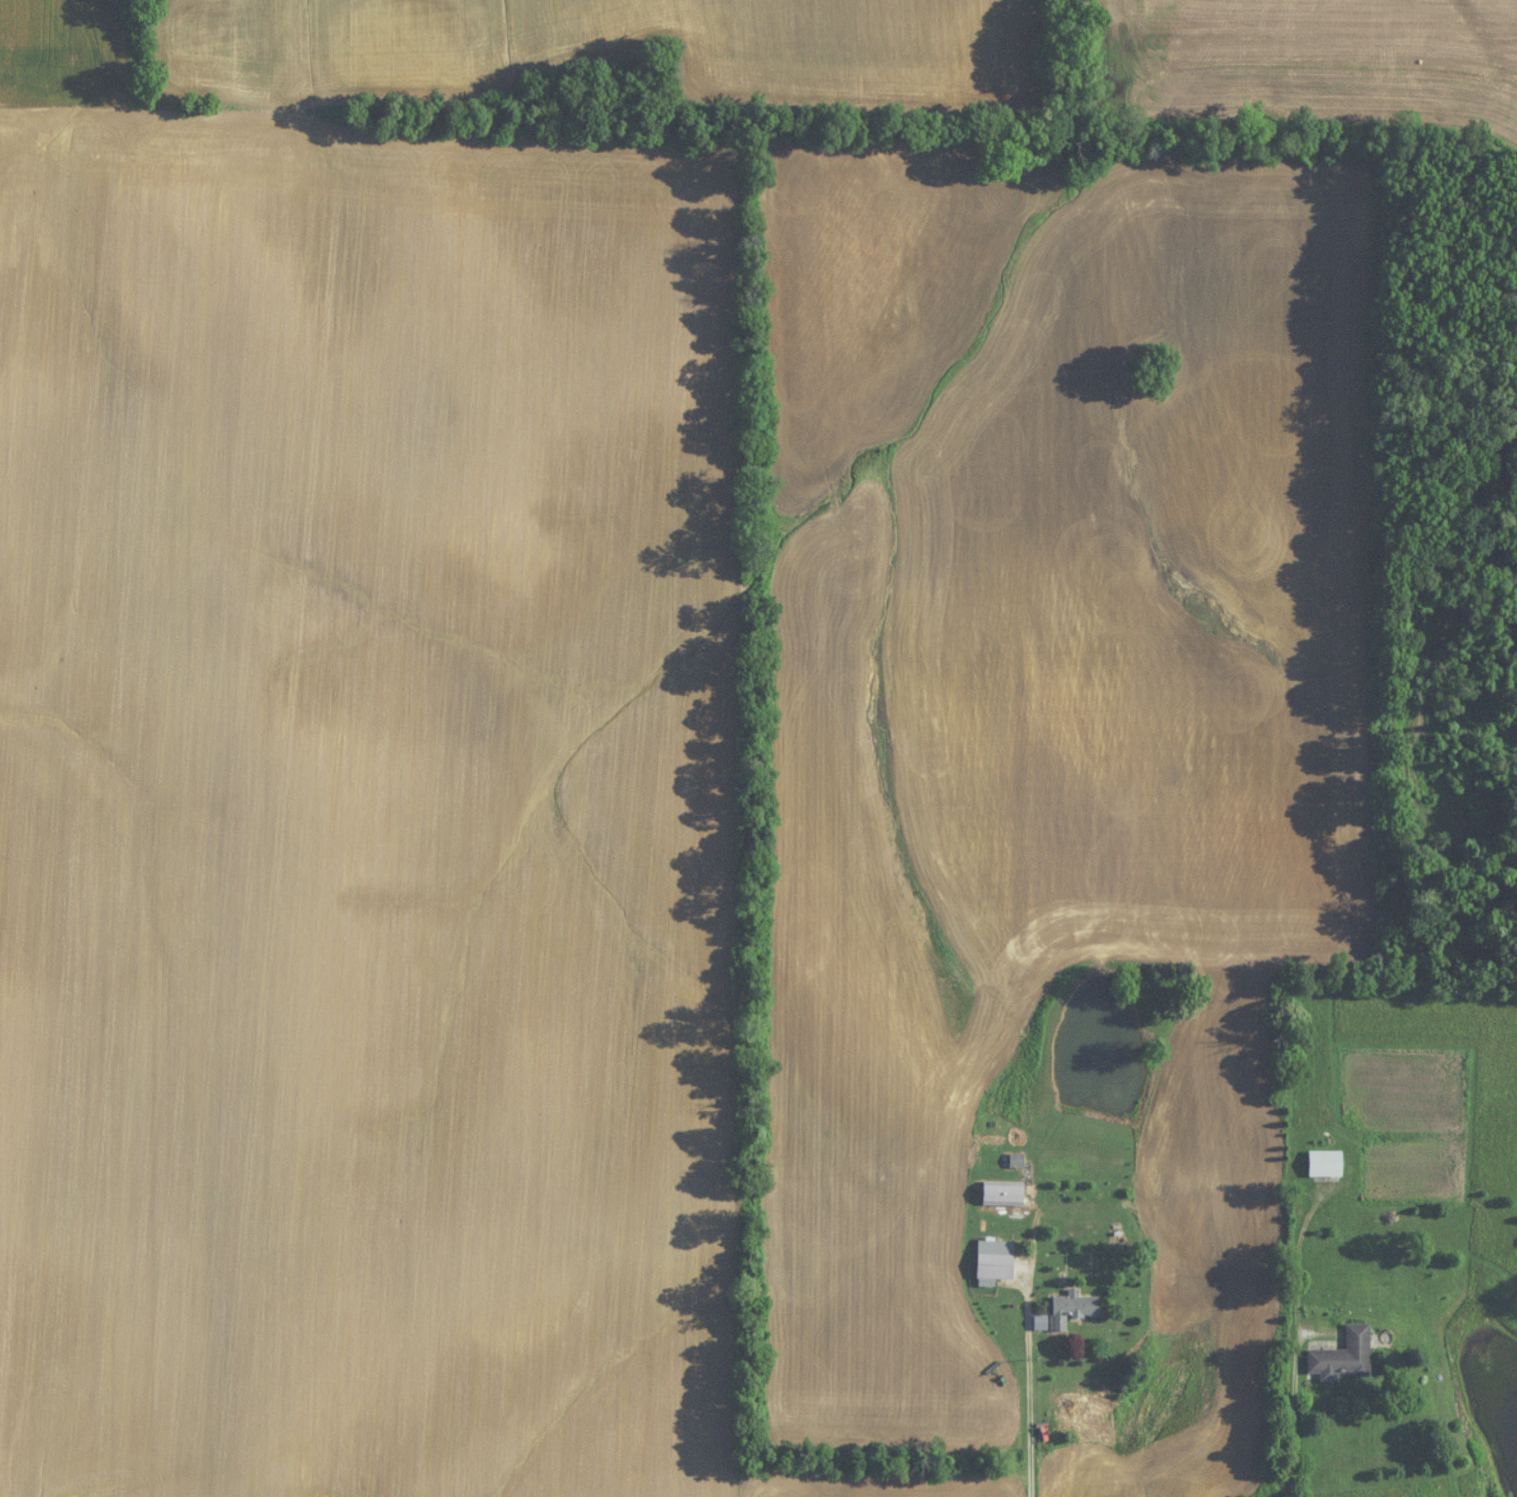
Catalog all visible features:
building: (1017, 1163)
building: (1326, 1166)
building: (1003, 1197)
building: (995, 1263)
building: (1074, 1312)
building: (1358, 1340)
road: (1295, 1344)
road: (1035, 1404)

